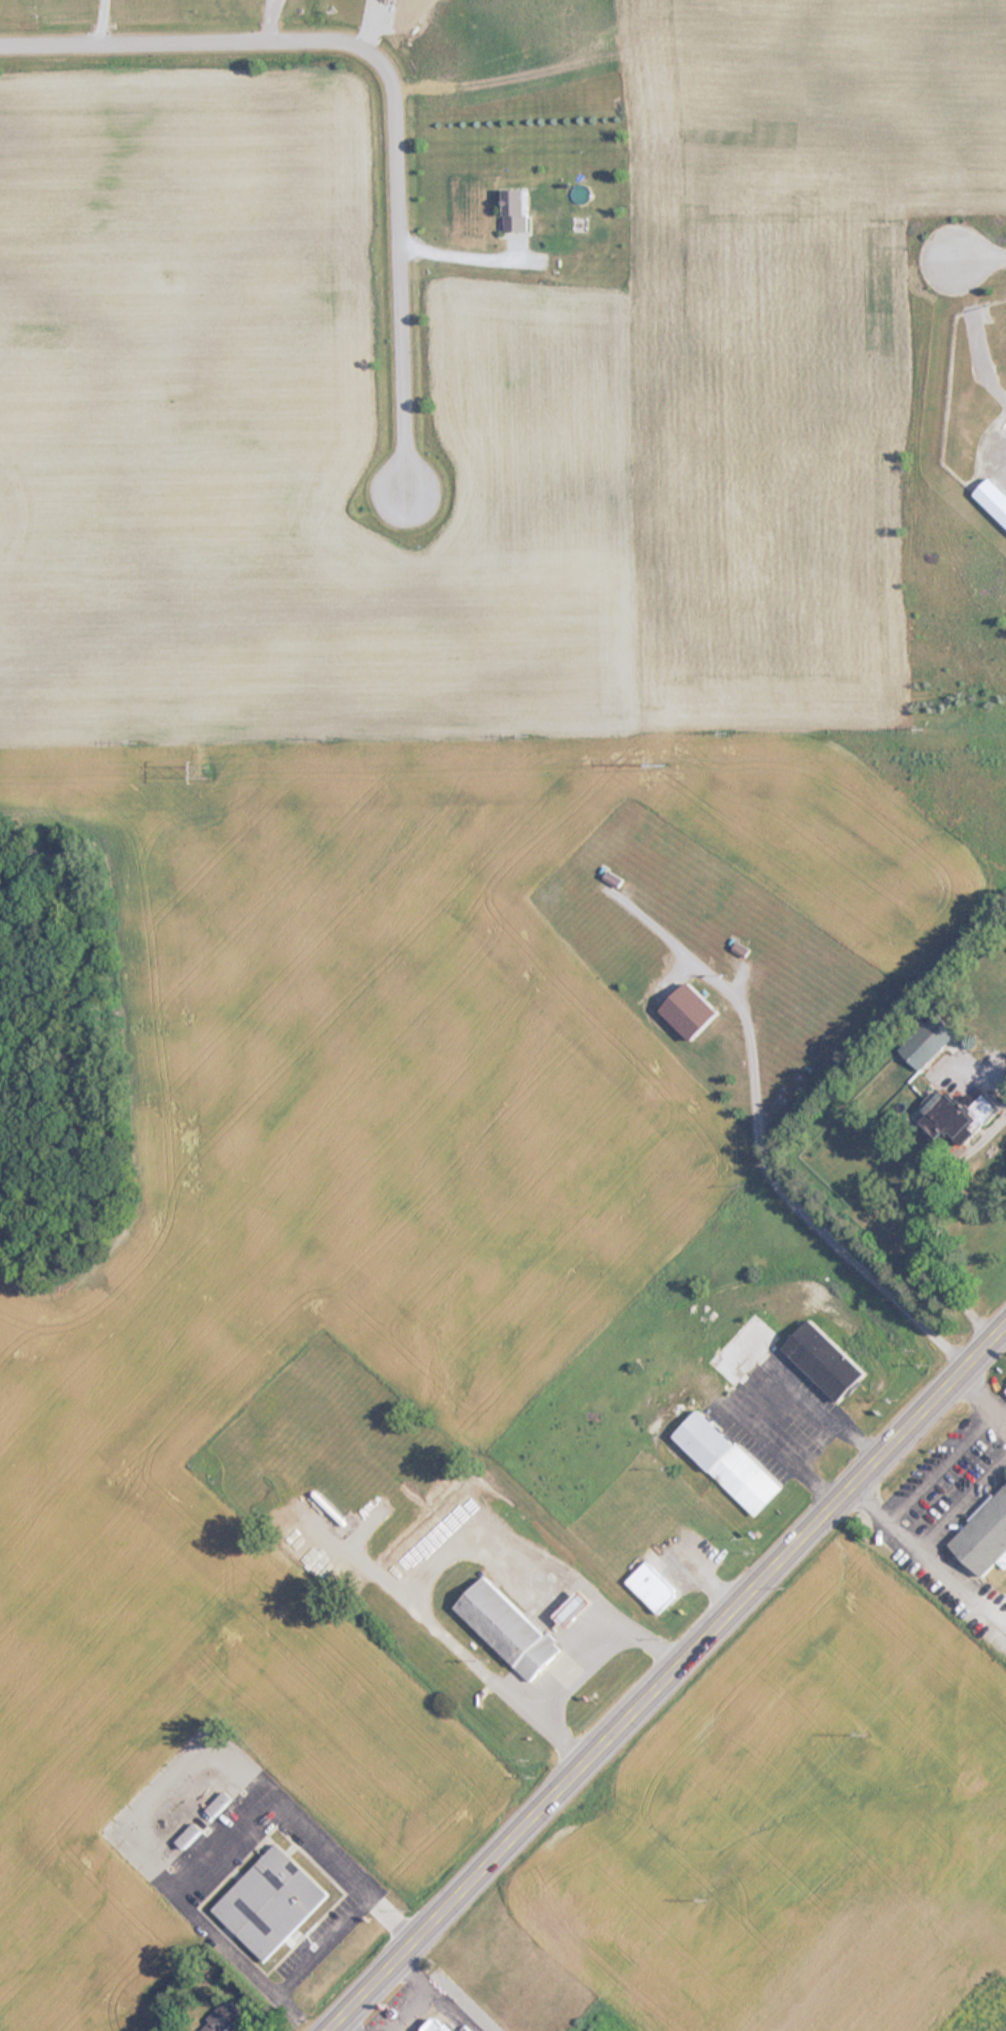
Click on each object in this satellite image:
road: (94, 19)
road: (385, 78)
building: (515, 211)
road: (464, 253)
road: (979, 256)
building: (992, 499)
power tower: (659, 767)
power tower: (207, 772)
building: (612, 878)
building: (688, 1011)
building: (926, 1040)
building: (956, 1116)
road: (781, 1193)
building: (741, 1349)
building: (822, 1360)
building: (725, 1462)
building: (984, 1535)
building: (651, 1587)
building: (507, 1629)
road: (663, 1677)
building: (218, 1804)
building: (187, 1836)
building: (270, 1902)
building: (439, 2026)

